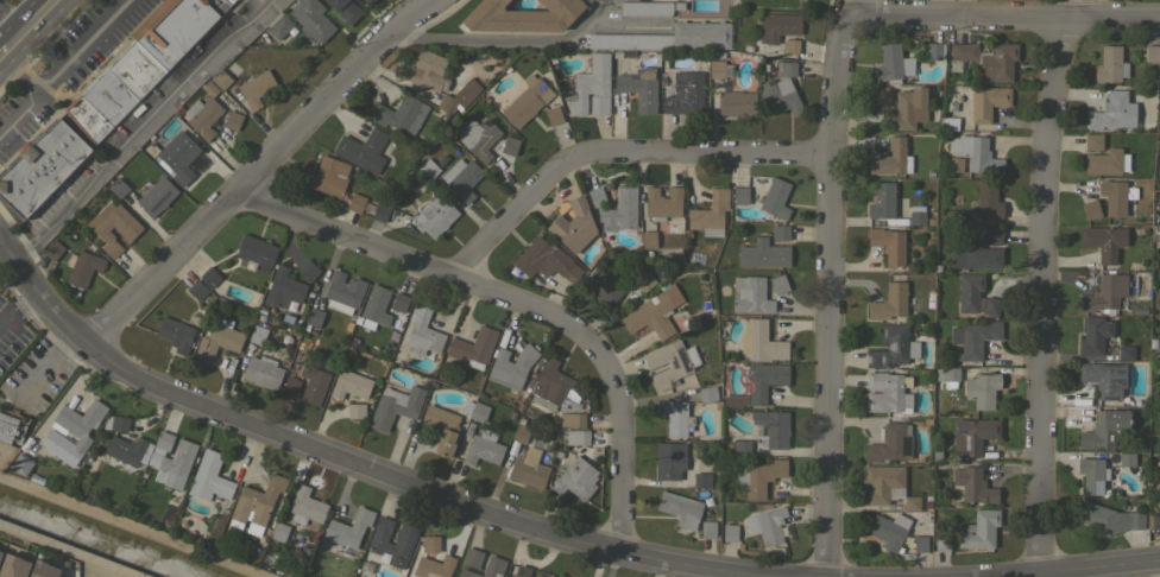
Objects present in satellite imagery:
building: (587, 0)
building: (228, 1)
building: (368, 1)
building: (582, 1)
building: (645, 8)
road: (964, 8)
building: (345, 9)
building: (521, 17)
road: (1007, 17)
building: (311, 19)
road: (31, 24)
building: (279, 26)
building: (781, 26)
building: (175, 27)
building: (669, 37)
road: (506, 44)
building: (789, 46)
building: (934, 51)
building: (964, 51)
road: (4, 52)
building: (1150, 52)
building: (998, 62)
building: (893, 64)
building: (1110, 64)
road: (64, 65)
building: (134, 69)
building: (719, 69)
building: (428, 70)
building: (220, 78)
building: (591, 87)
building: (256, 88)
building: (639, 89)
building: (780, 91)
building: (685, 94)
building: (881, 95)
building: (527, 101)
building: (986, 102)
building: (736, 103)
building: (100, 104)
building: (448, 104)
building: (908, 108)
building: (1112, 112)
road: (19, 114)
building: (399, 114)
building: (554, 115)
building: (202, 116)
building: (233, 120)
building: (947, 123)
road: (137, 131)
building: (478, 138)
building: (1092, 141)
building: (510, 146)
building: (363, 151)
building: (976, 153)
road: (614, 156)
building: (178, 157)
building: (891, 158)
building: (1107, 161)
building: (956, 164)
building: (39, 167)
building: (428, 169)
road: (257, 172)
building: (328, 177)
building: (461, 178)
building: (118, 188)
building: (156, 196)
building: (597, 196)
building: (740, 196)
building: (1116, 197)
building: (775, 198)
building: (988, 199)
building: (882, 202)
building: (355, 203)
building: (662, 203)
building: (1091, 209)
building: (619, 210)
building: (380, 211)
building: (708, 214)
building: (434, 216)
building: (953, 216)
building: (915, 218)
building: (573, 226)
building: (130, 229)
building: (780, 232)
building: (1159, 232)
building: (992, 235)
building: (648, 239)
building: (1104, 241)
building: (889, 243)
road: (1, 249)
building: (52, 249)
building: (254, 252)
building: (763, 253)
building: (976, 256)
building: (546, 260)
building: (82, 267)
building: (309, 270)
building: (1159, 274)
building: (209, 275)
building: (644, 281)
building: (778, 283)
road: (1041, 283)
road: (827, 285)
building: (283, 287)
building: (601, 287)
building: (198, 291)
building: (343, 292)
building: (969, 292)
building: (1105, 293)
building: (750, 294)
building: (399, 302)
building: (889, 302)
road: (29, 303)
road: (516, 304)
building: (991, 306)
building: (376, 307)
building: (649, 315)
building: (313, 317)
road: (11, 322)
building: (422, 331)
building: (176, 334)
building: (257, 335)
building: (1093, 335)
building: (973, 338)
building: (218, 340)
building: (761, 341)
building: (473, 345)
rooftop solar panel: (893, 347)
building: (893, 348)
rooftop solar panel: (906, 349)
building: (1124, 351)
building: (669, 362)
building: (511, 366)
building: (1159, 366)
building: (261, 372)
building: (1159, 372)
building: (947, 373)
building: (1103, 378)
building: (764, 380)
building: (550, 382)
building: (313, 383)
building: (349, 385)
building: (290, 386)
building: (982, 389)
building: (885, 392)
building: (707, 394)
building: (735, 400)
building: (395, 406)
building: (355, 410)
building: (478, 411)
building: (674, 417)
building: (572, 419)
building: (118, 423)
building: (11, 426)
building: (442, 427)
building: (771, 429)
building: (1104, 429)
building: (71, 431)
rooftop solar panel: (962, 432)
building: (521, 433)
building: (973, 435)
building: (576, 437)
building: (164, 440)
rooftop solar panel: (965, 443)
building: (889, 444)
rooftop solar panel: (907, 445)
building: (740, 446)
building: (483, 448)
building: (126, 449)
road: (347, 458)
building: (669, 459)
building: (1126, 459)
building: (175, 462)
building: (21, 464)
building: (528, 473)
building: (1091, 475)
building: (758, 476)
building: (209, 478)
building: (575, 478)
building: (701, 478)
building: (973, 486)
building: (887, 487)
building: (258, 501)
building: (305, 506)
building: (680, 508)
building: (1107, 519)
building: (1155, 521)
building: (765, 524)
building: (348, 528)
building: (707, 530)
building: (979, 530)
building: (278, 531)
building: (889, 531)
building: (730, 533)
rooftop solar panel: (408, 540)
building: (379, 543)
building: (429, 543)
building: (941, 543)
building: (920, 544)
road: (64, 551)
building: (0, 552)
building: (471, 557)
building: (12, 566)
building: (434, 566)
building: (486, 569)
building: (42, 570)
road: (1020, 570)
building: (521, 571)
building: (559, 576)

